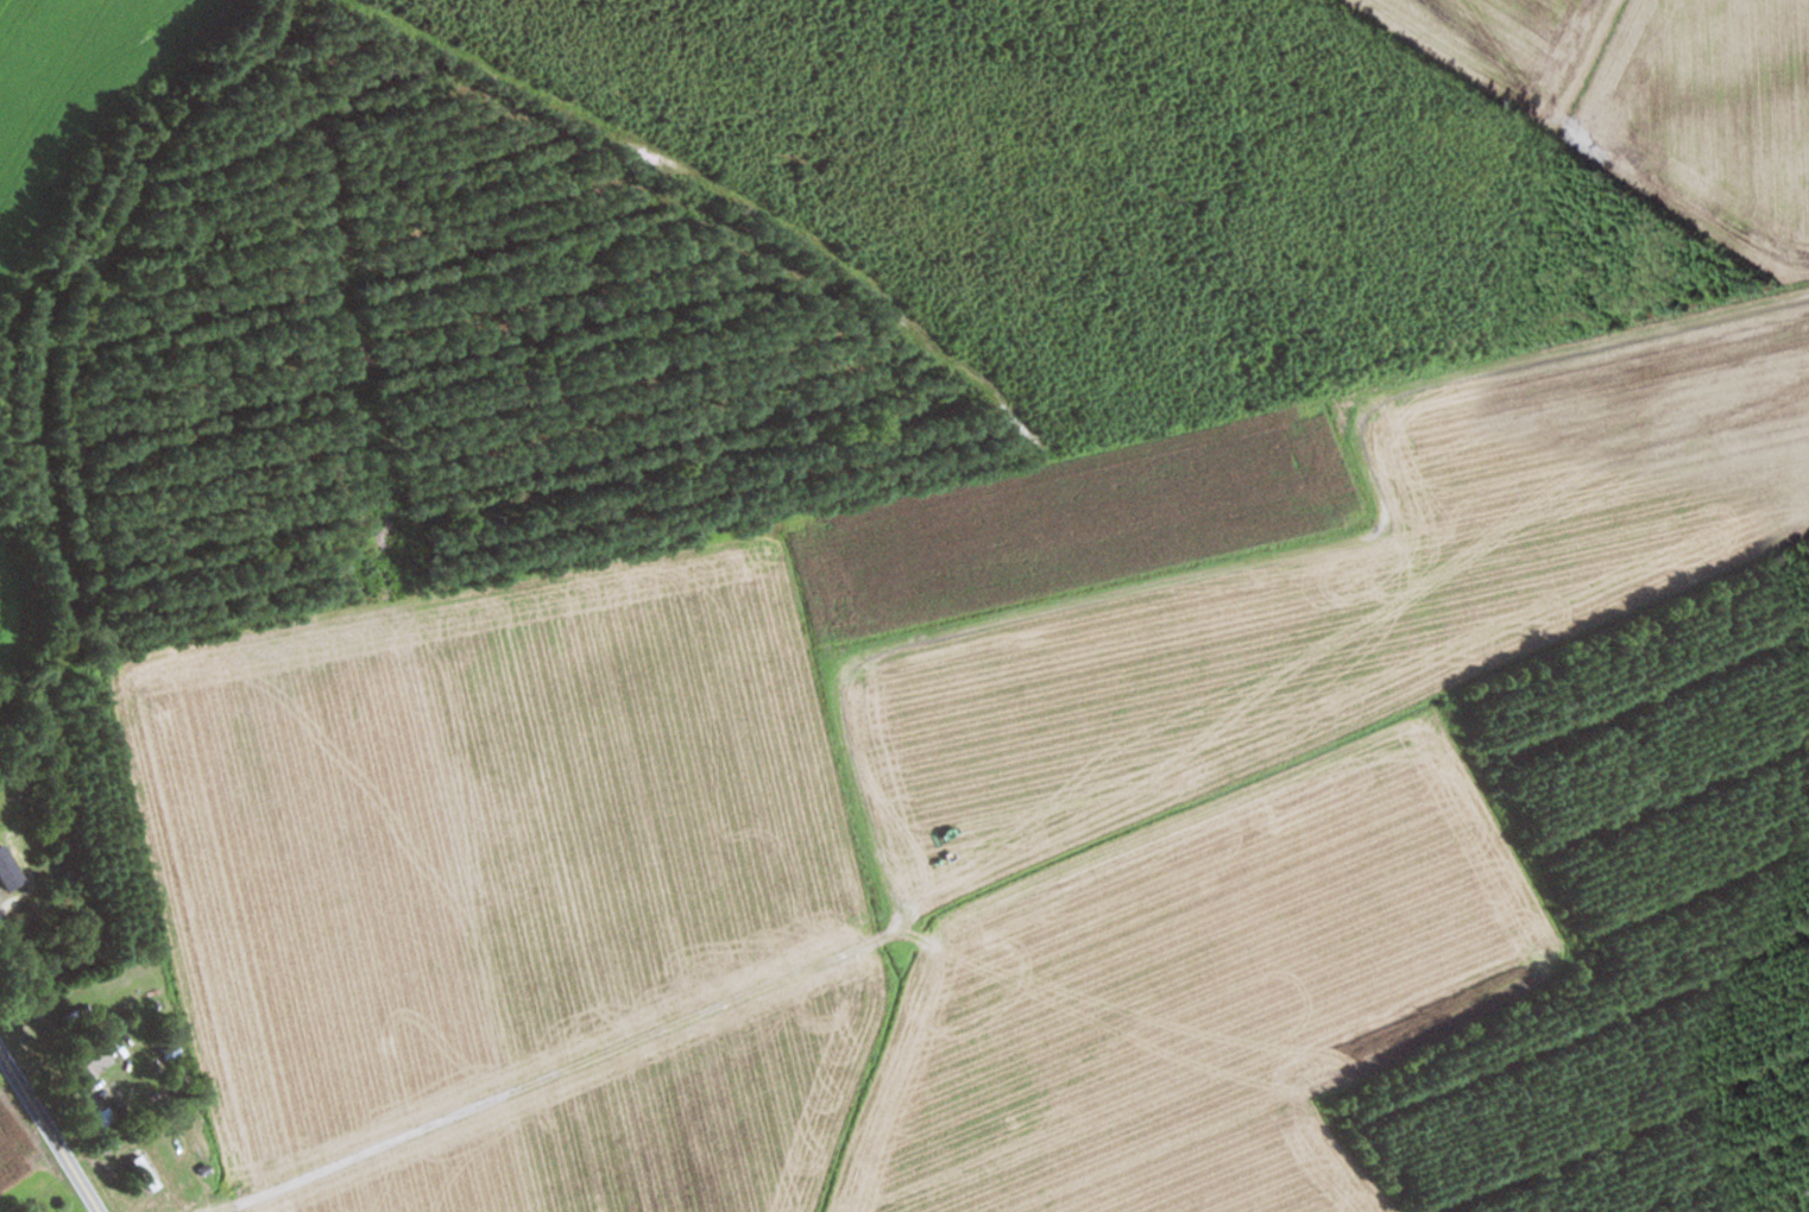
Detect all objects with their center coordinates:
building: (19, 860)
building: (53, 962)
building: (172, 1050)
building: (87, 1073)
road: (50, 1132)
building: (147, 1173)

